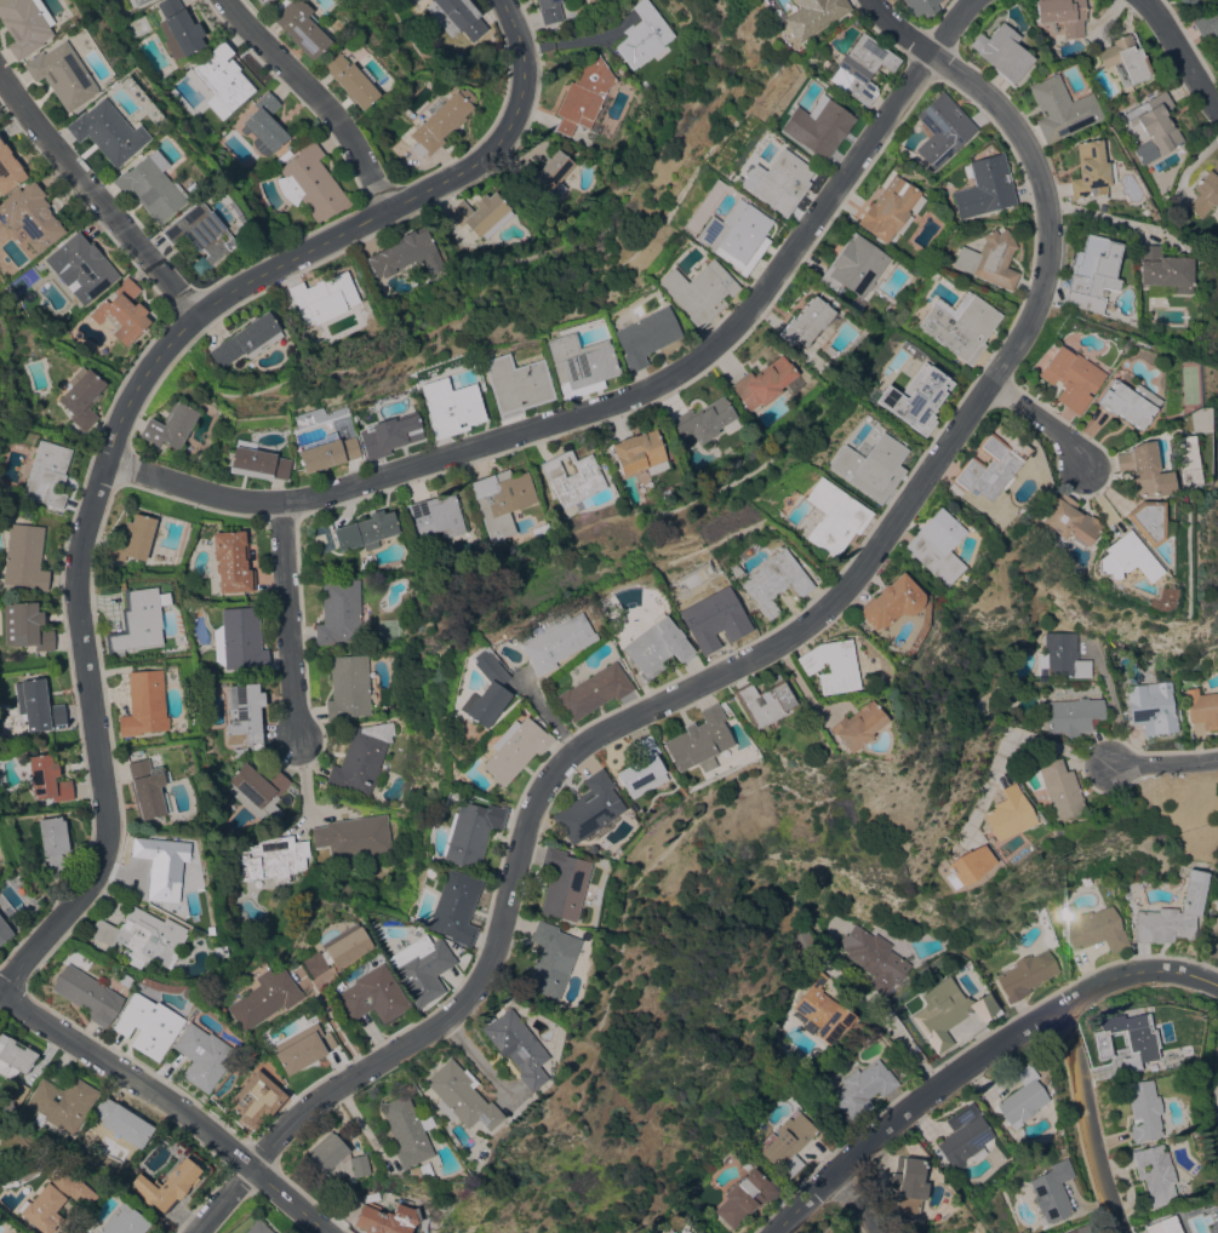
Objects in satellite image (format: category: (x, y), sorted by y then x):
building: (136, 1)
building: (258, 1)
building: (920, 6)
building: (548, 11)
building: (1060, 15)
building: (812, 16)
building: (457, 17)
building: (1207, 23)
building: (23, 25)
road: (896, 25)
building: (299, 27)
road: (944, 27)
building: (177, 29)
building: (644, 35)
road: (574, 39)
building: (1001, 52)
road: (1176, 52)
building: (1123, 59)
building: (860, 67)
building: (61, 75)
building: (222, 76)
building: (349, 81)
building: (584, 96)
road: (314, 98)
building: (1059, 109)
building: (439, 121)
building: (1156, 121)
building: (263, 125)
building: (816, 126)
building: (942, 128)
building: (107, 132)
building: (1140, 153)
building: (281, 156)
building: (1090, 168)
building: (8, 170)
building: (545, 176)
building: (776, 182)
building: (310, 184)
building: (984, 187)
building: (150, 188)
building: (1205, 194)
road: (1054, 196)
road: (87, 200)
building: (887, 208)
building: (481, 214)
building: (29, 216)
road: (1110, 217)
building: (199, 234)
building: (733, 236)
building: (405, 254)
building: (989, 259)
building: (853, 265)
building: (1093, 265)
building: (80, 266)
building: (1160, 271)
building: (697, 291)
building: (324, 298)
building: (121, 312)
building: (805, 321)
building: (957, 326)
building: (644, 337)
building: (246, 339)
building: (578, 365)
building: (1067, 378)
building: (764, 383)
building: (515, 384)
building: (913, 397)
building: (80, 398)
building: (1122, 402)
road: (119, 406)
building: (450, 407)
road: (588, 409)
road: (1033, 420)
building: (1194, 420)
building: (701, 421)
building: (170, 426)
building: (389, 436)
building: (325, 452)
building: (639, 453)
building: (1179, 460)
building: (987, 463)
building: (257, 464)
building: (867, 466)
building: (1138, 470)
building: (46, 474)
building: (572, 477)
building: (499, 501)
building: (435, 516)
building: (828, 517)
building: (1063, 520)
building: (1142, 522)
building: (365, 529)
building: (539, 529)
building: (132, 538)
building: (928, 546)
building: (24, 557)
building: (1120, 558)
building: (228, 561)
building: (730, 570)
building: (766, 583)
building: (881, 602)
building: (338, 612)
building: (702, 616)
road: (285, 619)
building: (136, 620)
building: (25, 626)
building: (239, 640)
building: (550, 643)
building: (648, 647)
building: (1060, 656)
building: (1039, 663)
building: (819, 665)
building: (348, 687)
building: (481, 690)
building: (585, 692)
building: (753, 700)
building: (143, 704)
building: (36, 705)
building: (1151, 709)
building: (1202, 709)
building: (1071, 715)
building: (242, 716)
building: (845, 726)
building: (687, 740)
road: (1007, 741)
building: (508, 750)
building: (360, 758)
road: (1162, 765)
road: (542, 769)
building: (631, 769)
road: (302, 774)
building: (46, 779)
building: (144, 788)
building: (257, 790)
building: (1058, 790)
building: (579, 808)
building: (1006, 813)
building: (465, 833)
building: (353, 838)
building: (52, 843)
building: (269, 859)
building: (966, 865)
building: (159, 866)
building: (555, 884)
building: (451, 907)
building: (1173, 914)
building: (1092, 928)
building: (1217, 929)
building: (4, 931)
building: (142, 935)
building: (336, 950)
building: (218, 952)
building: (874, 958)
building: (543, 959)
building: (419, 970)
road: (1137, 973)
building: (1025, 975)
building: (86, 994)
building: (371, 996)
building: (262, 998)
building: (820, 1009)
building: (947, 1011)
building: (147, 1025)
road: (1067, 1025)
road: (905, 1037)
building: (1126, 1038)
road: (1002, 1042)
building: (510, 1046)
building: (301, 1048)
building: (204, 1055)
building: (16, 1057)
road: (471, 1061)
building: (1150, 1067)
road: (128, 1078)
building: (862, 1089)
building: (16, 1091)
building: (456, 1096)
building: (1020, 1097)
building: (255, 1100)
building: (61, 1103)
building: (1142, 1111)
building: (121, 1122)
building: (402, 1130)
building: (962, 1136)
building: (87, 1139)
road: (1092, 1140)
building: (789, 1141)
road: (856, 1152)
building: (333, 1157)
building: (1154, 1174)
building: (908, 1185)
building: (166, 1186)
building: (1051, 1192)
building: (745, 1197)
building: (52, 1200)
road: (286, 1200)
road: (854, 1200)
building: (121, 1221)
building: (378, 1221)
building: (1161, 1226)
building: (256, 1227)
building: (1080, 1229)
building: (687, 1231)
building: (677, 1232)
building: (694, 1232)
building: (697, 1232)

